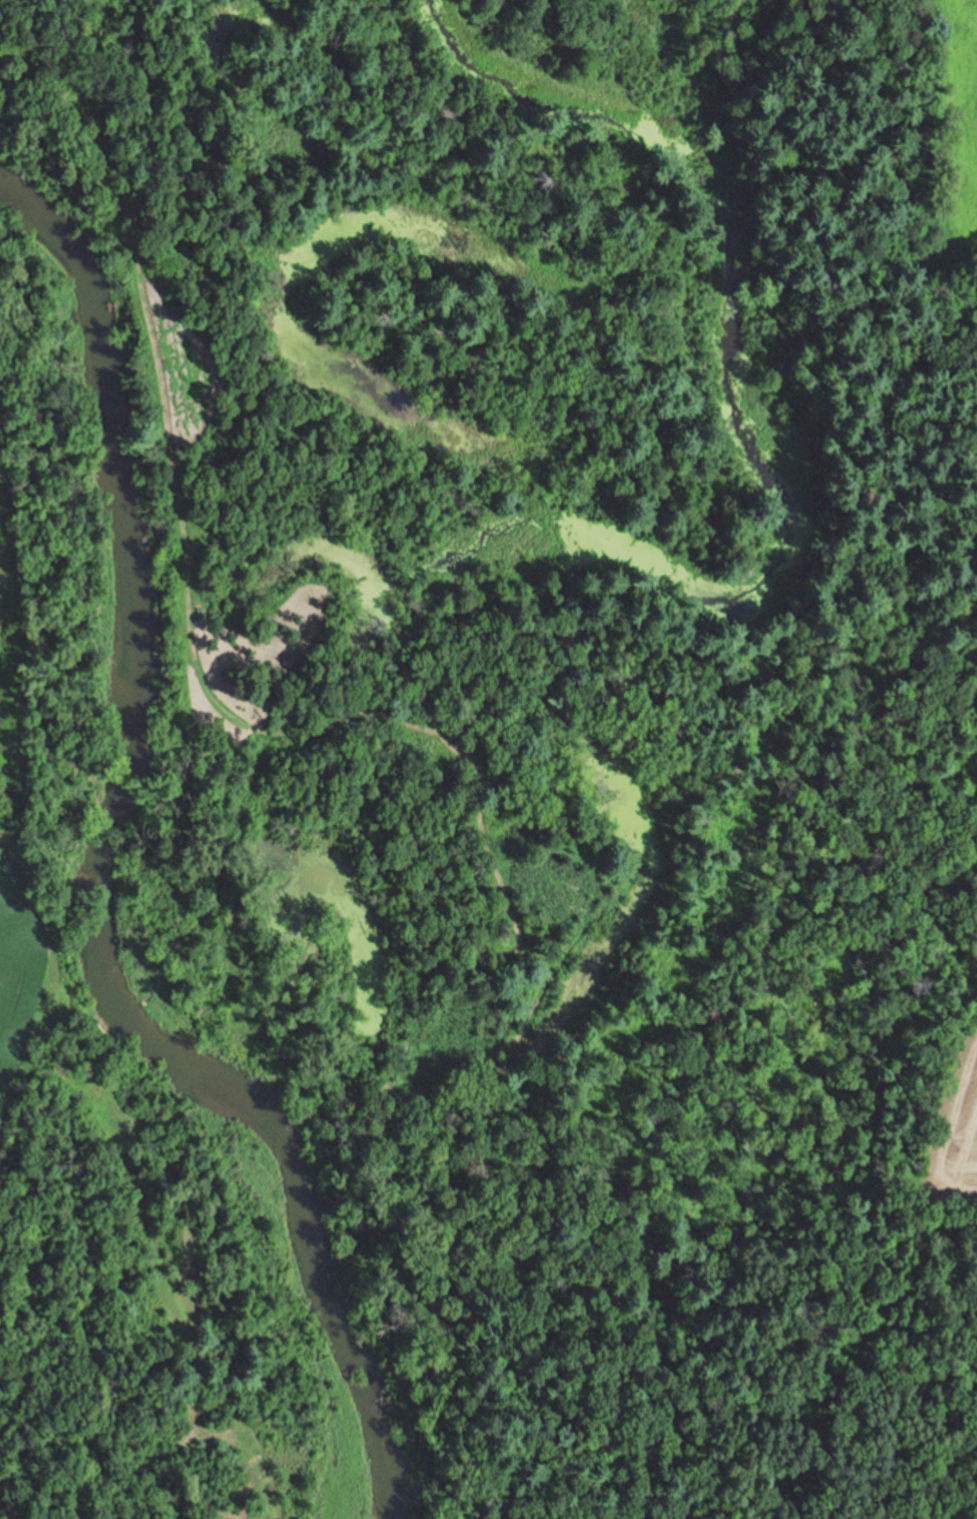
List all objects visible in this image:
crop: (952, 123)
river: (96, 881)

